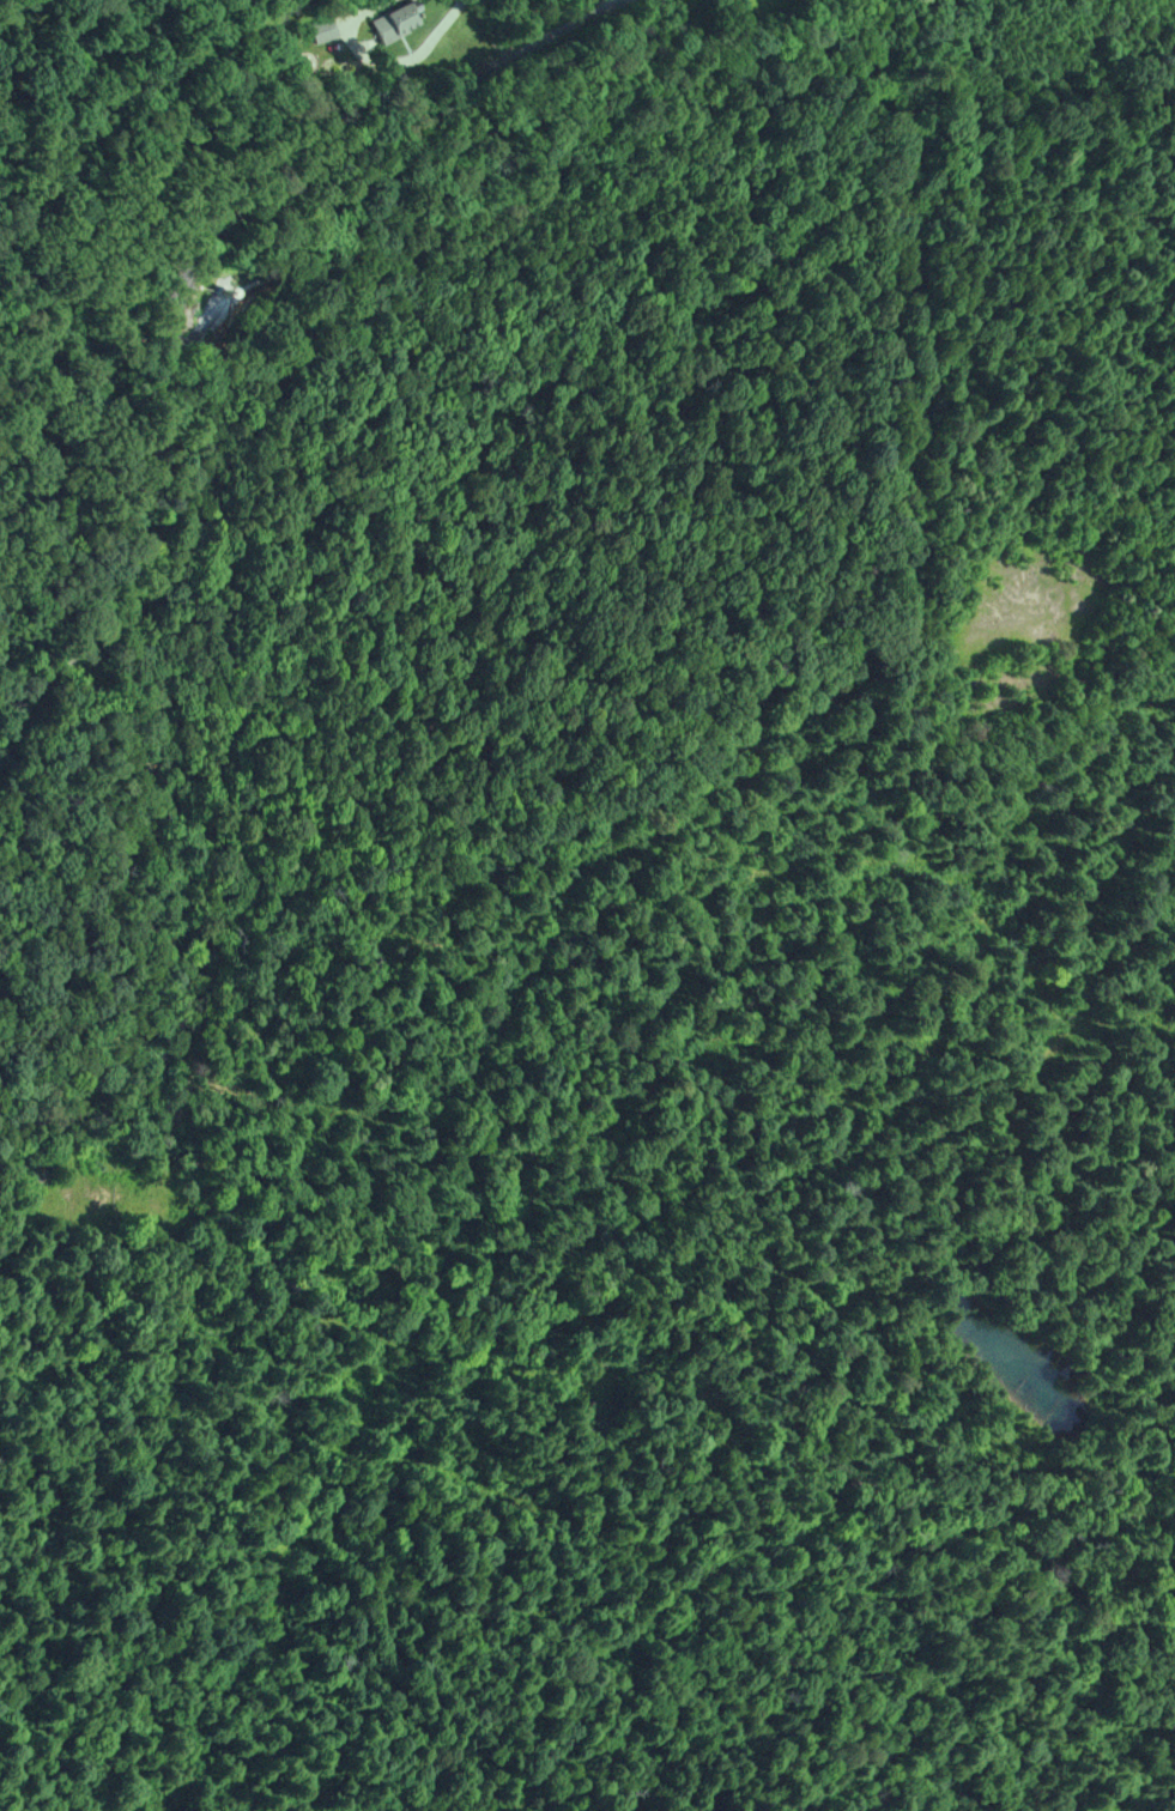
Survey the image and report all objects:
building: (399, 22)
road: (196, 253)
road: (2, 958)

